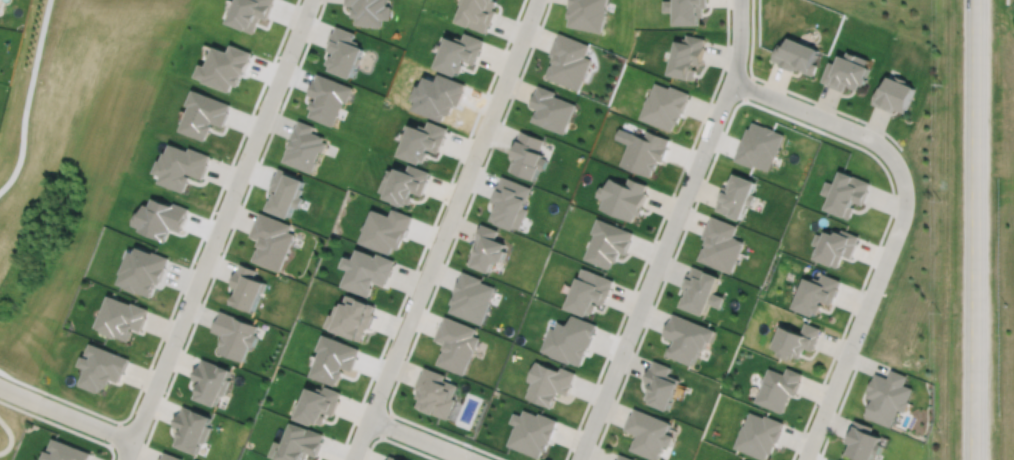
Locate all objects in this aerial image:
road: (1006, 1)
building: (686, 9)
building: (370, 11)
building: (252, 12)
building: (479, 12)
building: (588, 13)
building: (344, 50)
building: (461, 51)
building: (797, 54)
building: (688, 55)
building: (569, 60)
building: (226, 66)
building: (848, 70)
road: (747, 87)
road: (794, 93)
building: (895, 93)
building: (327, 98)
building: (665, 104)
building: (551, 108)
building: (205, 113)
road: (780, 114)
building: (425, 140)
building: (760, 145)
building: (305, 146)
building: (645, 151)
building: (528, 154)
building: (182, 165)
building: (407, 183)
building: (847, 193)
building: (738, 195)
building: (624, 197)
building: (509, 202)
road: (899, 226)
building: (388, 229)
road: (430, 229)
road: (217, 230)
road: (230, 230)
road: (443, 230)
road: (974, 230)
road: (655, 232)
road: (669, 232)
building: (272, 240)
building: (608, 243)
building: (722, 244)
building: (836, 245)
building: (487, 248)
road: (193, 254)
road: (443, 264)
building: (144, 271)
building: (368, 271)
building: (247, 287)
building: (702, 291)
building: (589, 292)
building: (818, 294)
building: (471, 298)
building: (122, 318)
building: (354, 318)
building: (235, 335)
building: (688, 338)
building: (570, 340)
building: (798, 341)
building: (455, 344)
building: (335, 359)
building: (102, 367)
building: (211, 382)
building: (549, 383)
building: (662, 386)
building: (780, 388)
building: (435, 394)
building: (888, 397)
building: (320, 405)
road: (65, 413)
road: (384, 424)
road: (61, 425)
building: (192, 430)
building: (532, 432)
building: (650, 434)
building: (759, 435)
road: (8, 437)
road: (419, 439)
road: (395, 442)
building: (862, 442)
building: (300, 444)
building: (66, 452)
building: (623, 456)
building: (170, 457)
building: (395, 457)
building: (739, 459)

